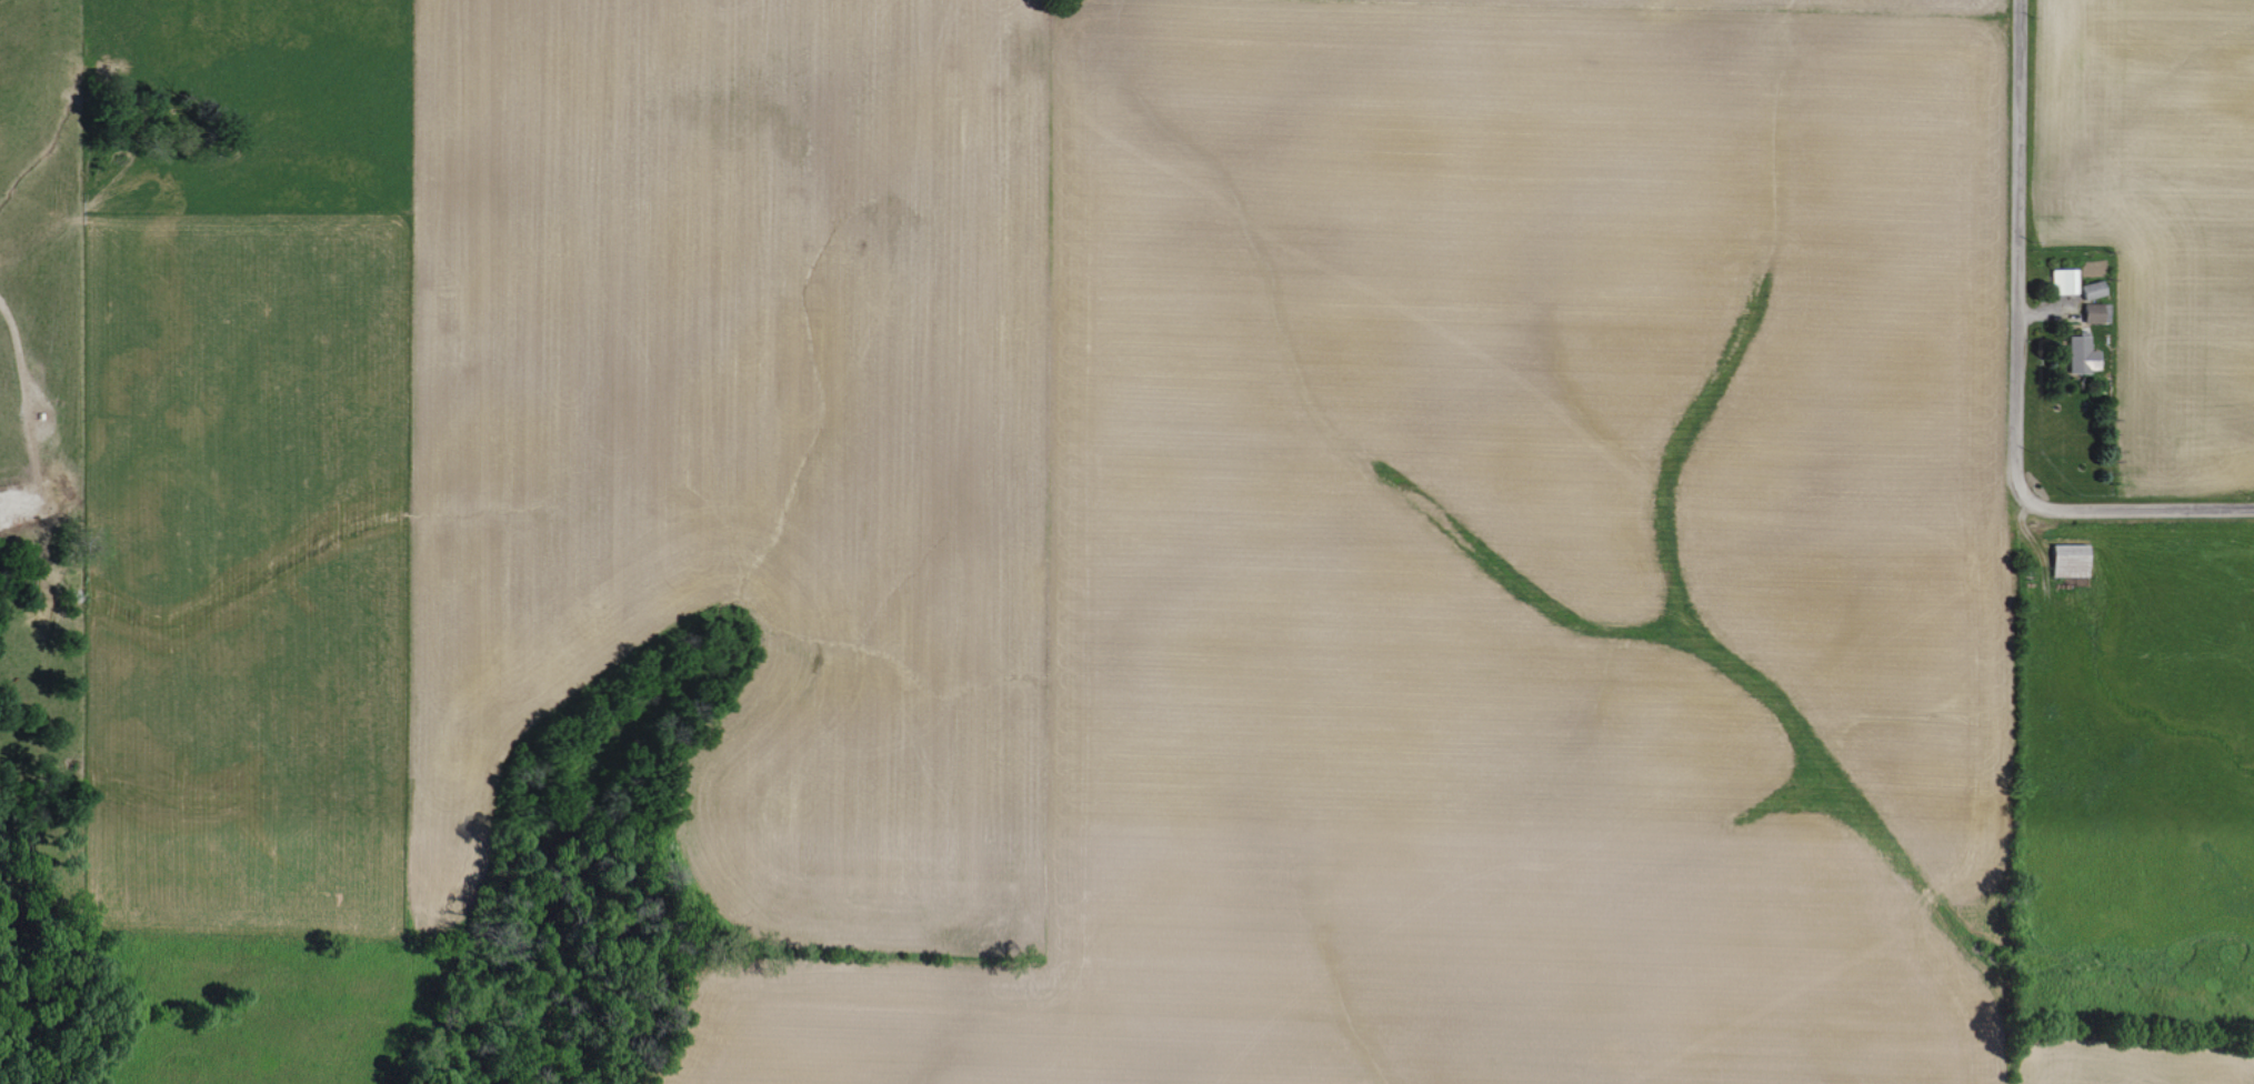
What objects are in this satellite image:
road: (2013, 240)
building: (2061, 282)
building: (2088, 290)
building: (2092, 313)
building: (2077, 354)
road: (2128, 510)

